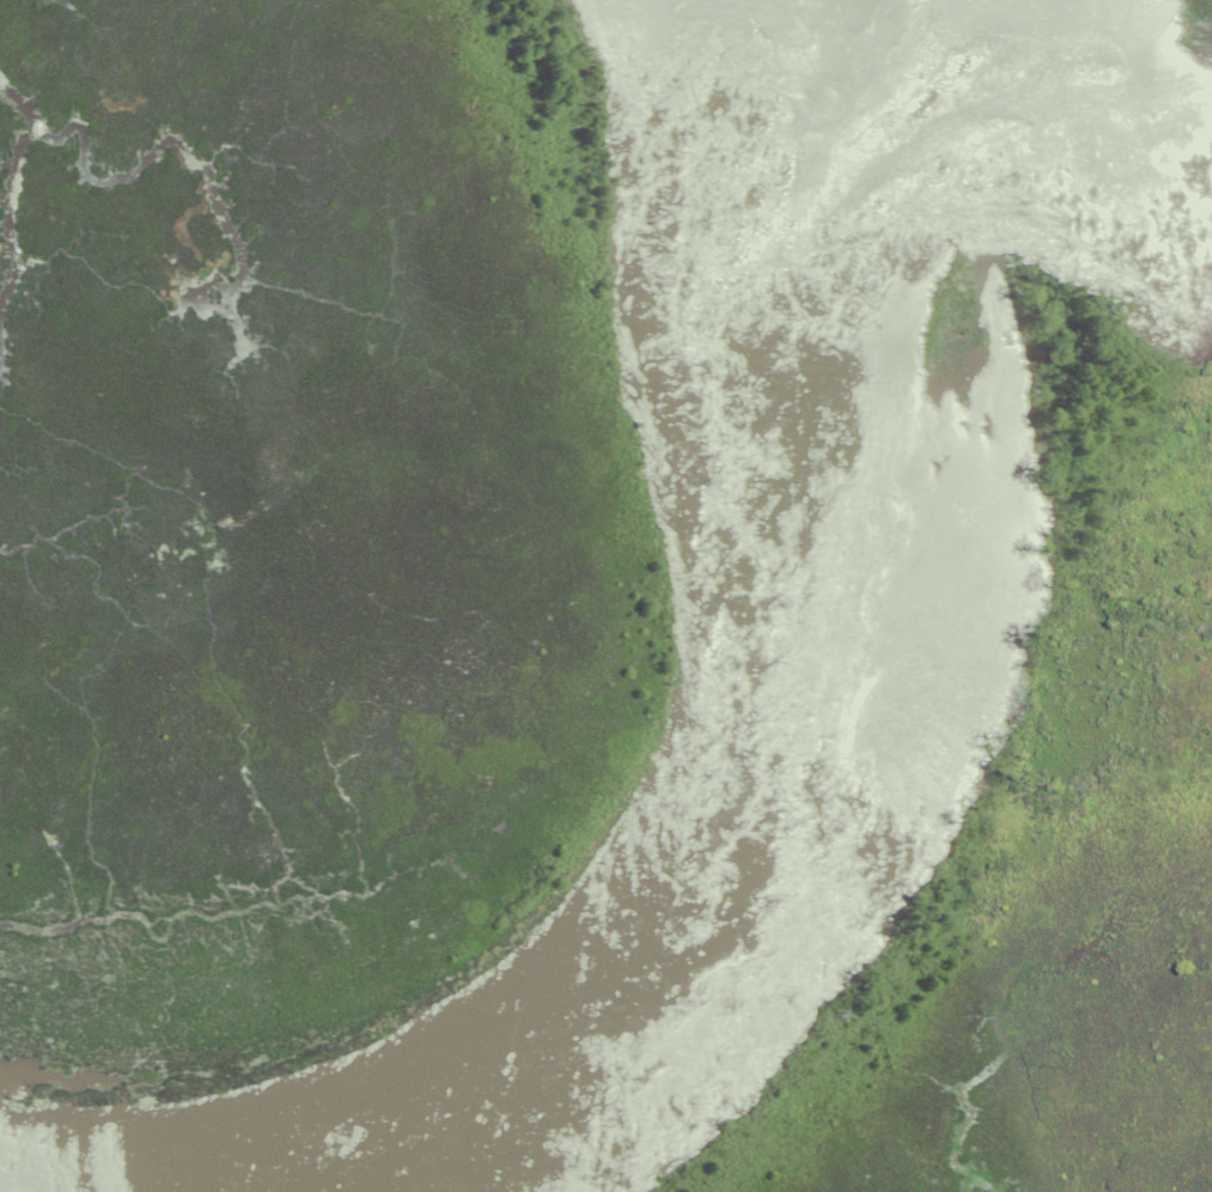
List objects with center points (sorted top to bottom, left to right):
river: (1120, 101)
river: (755, 857)

